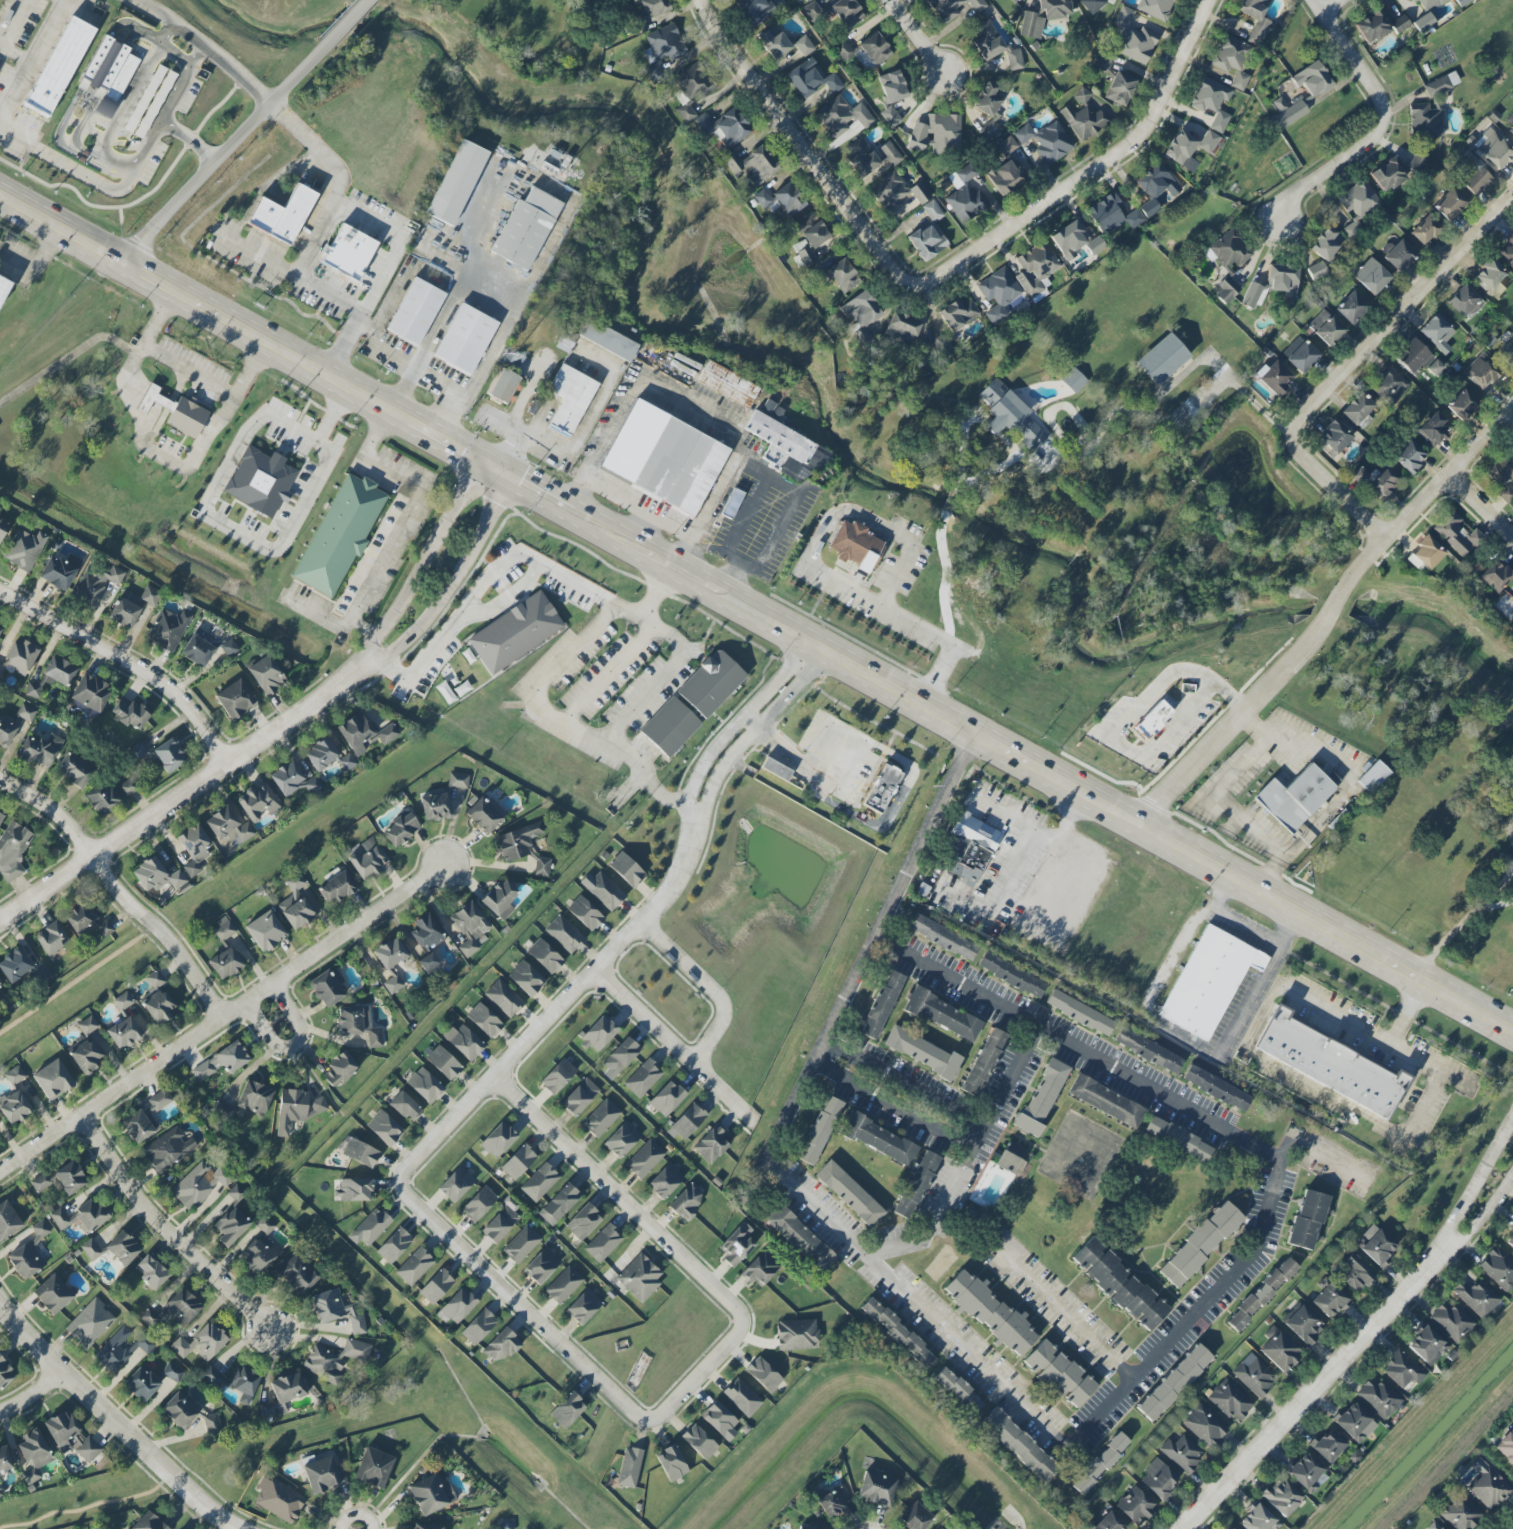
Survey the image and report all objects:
building: (594, 0)
building: (805, 0)
building: (1014, 1)
building: (1460, 2)
building: (1428, 4)
building: (1092, 5)
road: (1317, 5)
road: (1330, 5)
building: (651, 7)
building: (952, 8)
building: (753, 10)
building: (812, 11)
building: (846, 12)
building: (1042, 16)
building: (1123, 17)
building: (1255, 19)
road: (349, 22)
building: (1423, 22)
building: (1400, 24)
building: (1373, 26)
building: (773, 42)
building: (664, 44)
road: (924, 44)
building: (1137, 44)
building: (803, 45)
building: (994, 46)
road: (206, 47)
building: (843, 50)
road: (33, 58)
building: (1231, 60)
building: (1103, 62)
building: (58, 66)
building: (109, 73)
building: (805, 78)
building: (1311, 79)
building: (832, 83)
building: (1440, 84)
building: (892, 86)
building: (1119, 88)
building: (1081, 95)
building: (987, 99)
building: (1211, 101)
building: (1285, 113)
building: (843, 116)
building: (890, 116)
building: (1425, 117)
building: (1083, 120)
building: (1510, 123)
building: (724, 127)
road: (1378, 129)
building: (936, 133)
road: (190, 140)
building: (1046, 141)
building: (1208, 141)
building: (1006, 145)
road: (806, 149)
building: (1493, 149)
building: (1181, 150)
road: (227, 152)
building: (890, 153)
building: (861, 158)
building: (1415, 163)
road: (116, 164)
building: (752, 165)
road: (68, 166)
road: (1098, 171)
building: (1388, 173)
building: (1005, 177)
building: (1475, 181)
building: (456, 182)
building: (1154, 187)
building: (889, 192)
building: (919, 192)
building: (964, 195)
building: (762, 198)
building: (788, 198)
building: (1450, 204)
building: (1357, 205)
building: (281, 213)
building: (1112, 215)
building: (525, 229)
building: (1424, 230)
building: (812, 231)
building: (928, 234)
road: (403, 239)
building: (1326, 243)
road: (308, 247)
building: (1508, 250)
road: (255, 251)
building: (348, 252)
building: (1398, 254)
road: (38, 263)
building: (1035, 268)
building: (1316, 270)
building: (842, 275)
building: (1371, 276)
building: (1490, 278)
building: (1273, 284)
building: (3, 287)
building: (1225, 289)
building: (998, 293)
building: (1465, 301)
road: (204, 303)
road: (445, 307)
building: (1352, 307)
building: (413, 311)
building: (861, 313)
building: (957, 314)
road: (1399, 318)
building: (902, 327)
building: (1326, 327)
building: (1436, 333)
building: (463, 338)
building: (606, 340)
building: (565, 341)
road: (384, 343)
building: (1507, 352)
building: (1299, 354)
building: (1413, 357)
building: (1162, 358)
road: (189, 368)
building: (1481, 371)
building: (1273, 376)
building: (1074, 381)
building: (500, 384)
building: (724, 384)
building: (1389, 386)
road: (527, 393)
building: (568, 399)
building: (1463, 402)
building: (1358, 410)
road: (1184, 411)
building: (176, 412)
road: (705, 415)
building: (1009, 415)
road: (503, 418)
building: (1434, 428)
building: (1333, 438)
road: (576, 439)
building: (787, 444)
road: (456, 447)
building: (1511, 448)
road: (156, 451)
building: (1408, 456)
building: (661, 457)
road: (1038, 463)
building: (1359, 475)
building: (1503, 478)
building: (260, 480)
building: (1384, 483)
road: (784, 489)
road: (551, 490)
road: (1337, 490)
road: (719, 495)
road: (207, 499)
building: (731, 503)
road: (959, 504)
road: (1481, 507)
road: (650, 514)
road: (643, 524)
building: (2, 530)
road: (395, 532)
building: (339, 534)
building: (1455, 534)
road: (770, 546)
building: (861, 546)
road: (713, 548)
building: (24, 549)
building: (1424, 554)
road: (419, 557)
road: (669, 565)
road: (815, 568)
road: (655, 570)
building: (59, 571)
road: (489, 572)
road: (707, 575)
building: (1494, 576)
road: (454, 579)
road: (951, 580)
building: (95, 585)
road: (509, 595)
road: (649, 596)
building: (1511, 598)
building: (131, 605)
building: (1512, 608)
road: (1329, 616)
building: (0, 628)
building: (168, 628)
road: (363, 629)
building: (513, 632)
building: (204, 647)
building: (20, 656)
road: (425, 660)
road: (128, 664)
road: (663, 672)
road: (605, 673)
building: (53, 675)
building: (266, 675)
road: (541, 680)
building: (717, 683)
building: (1187, 688)
building: (90, 693)
road: (1228, 697)
building: (235, 699)
building: (129, 712)
building: (24, 714)
building: (1152, 719)
road: (739, 723)
building: (667, 726)
road: (754, 729)
building: (6, 732)
building: (363, 733)
road: (1118, 736)
building: (40, 750)
building: (137, 751)
building: (169, 755)
road: (787, 755)
building: (327, 756)
building: (74, 769)
building: (775, 769)
building: (1512, 769)
building: (1371, 777)
building: (292, 780)
building: (457, 780)
road: (1349, 781)
building: (1510, 785)
building: (880, 789)
road: (189, 792)
building: (109, 795)
building: (1294, 798)
road: (1212, 800)
building: (258, 801)
building: (435, 806)
building: (486, 814)
building: (1, 817)
building: (228, 826)
road: (1035, 827)
building: (400, 829)
building: (975, 831)
road: (1166, 833)
building: (522, 847)
building: (193, 848)
building: (13, 850)
building: (367, 859)
building: (626, 869)
building: (155, 875)
building: (336, 888)
building: (604, 891)
road: (120, 893)
road: (1490, 893)
road: (995, 896)
building: (499, 899)
building: (295, 905)
building: (584, 913)
building: (87, 920)
road: (1456, 925)
building: (469, 927)
road: (1289, 927)
building: (223, 930)
building: (265, 931)
building: (425, 932)
building: (564, 934)
building: (942, 937)
building: (51, 938)
building: (390, 953)
building: (544, 956)
building: (225, 963)
building: (429, 963)
building: (14, 965)
building: (40, 973)
building: (1010, 975)
building: (525, 978)
building: (154, 979)
road: (956, 981)
building: (1206, 981)
building: (0, 984)
building: (392, 984)
road: (710, 985)
building: (327, 988)
building: (503, 998)
building: (122, 1001)
building: (881, 1004)
building: (158, 1006)
road: (561, 1006)
building: (1079, 1013)
building: (942, 1015)
road: (224, 1019)
building: (484, 1020)
building: (358, 1024)
building: (87, 1025)
road: (297, 1027)
building: (123, 1034)
building: (598, 1034)
road: (1225, 1040)
building: (463, 1041)
road: (674, 1047)
building: (1147, 1050)
building: (921, 1052)
building: (85, 1056)
building: (619, 1057)
building: (221, 1061)
building: (983, 1061)
building: (443, 1062)
building: (1328, 1064)
building: (338, 1069)
building: (14, 1075)
building: (557, 1076)
building: (643, 1077)
building: (52, 1079)
road: (904, 1083)
building: (424, 1085)
building: (1215, 1088)
road: (1330, 1095)
building: (579, 1096)
building: (254, 1097)
building: (1041, 1097)
building: (666, 1098)
road: (895, 1101)
building: (1105, 1101)
building: (405, 1106)
building: (14, 1107)
building: (290, 1109)
building: (315, 1110)
building: (600, 1117)
building: (143, 1119)
building: (687, 1121)
building: (384, 1128)
building: (819, 1130)
building: (498, 1139)
building: (621, 1139)
building: (878, 1139)
building: (1177, 1139)
building: (711, 1144)
building: (167, 1149)
building: (360, 1153)
building: (1010, 1157)
building: (644, 1159)
building: (518, 1162)
building: (62, 1179)
building: (665, 1181)
building: (539, 1182)
building: (198, 1184)
building: (455, 1184)
building: (916, 1184)
building: (353, 1190)
building: (236, 1193)
building: (848, 1193)
road: (619, 1194)
building: (686, 1201)
building: (478, 1203)
building: (558, 1204)
building: (81, 1217)
building: (8, 1220)
building: (1307, 1220)
building: (583, 1221)
building: (499, 1224)
building: (230, 1226)
building: (369, 1227)
building: (40, 1229)
road: (162, 1236)
road: (850, 1237)
building: (800, 1239)
building: (1509, 1240)
building: (603, 1243)
building: (520, 1244)
building: (736, 1244)
building: (1200, 1244)
building: (393, 1245)
building: (1375, 1245)
building: (112, 1248)
building: (258, 1249)
building: (23, 1257)
building: (414, 1266)
building: (541, 1266)
building: (1498, 1268)
building: (760, 1269)
building: (150, 1271)
building: (1353, 1273)
building: (296, 1274)
building: (639, 1278)
building: (563, 1284)
building: (1119, 1284)
building: (435, 1286)
building: (52, 1294)
building: (1260, 1294)
building: (1476, 1296)
building: (1328, 1299)
road: (520, 1303)
building: (180, 1306)
building: (457, 1306)
building: (583, 1306)
building: (336, 1310)
building: (989, 1312)
road: (1067, 1314)
building: (148, 1316)
building: (1451, 1321)
building: (90, 1323)
building: (1303, 1323)
building: (478, 1326)
building: (897, 1333)
building: (796, 1334)
building: (201, 1342)
road: (1357, 1344)
building: (1427, 1345)
building: (500, 1346)
building: (1279, 1349)
building: (114, 1350)
building: (334, 1359)
building: (1403, 1369)
building: (172, 1372)
road: (701, 1372)
building: (1058, 1373)
building: (5, 1374)
building: (763, 1374)
building: (1253, 1374)
building: (212, 1376)
building: (243, 1382)
building: (1173, 1382)
building: (141, 1383)
building: (287, 1388)
building: (957, 1390)
road: (30, 1394)
building: (742, 1397)
building: (1378, 1397)
building: (1229, 1399)
building: (265, 1410)
building: (567, 1410)
building: (187, 1412)
road: (1101, 1413)
building: (719, 1420)
road: (111, 1421)
building: (1355, 1422)
building: (1205, 1425)
building: (70, 1436)
building: (699, 1441)
building: (1018, 1445)
building: (1327, 1445)
building: (1506, 1446)
building: (1181, 1453)
building: (33, 1455)
building: (4, 1458)
building: (671, 1463)
building: (1099, 1463)
building: (373, 1467)
building: (629, 1467)
building: (1303, 1470)
building: (323, 1475)
building: (1158, 1478)
building: (876, 1488)
building: (1488, 1488)
building: (430, 1494)
building: (1281, 1497)
building: (278, 1499)
building: (833, 1503)
building: (1135, 1505)
building: (1460, 1513)
building: (915, 1517)
building: (1257, 1519)
building: (147, 1522)
road: (367, 1522)
building: (1110, 1522)
building: (1432, 1525)
building: (425, 1527)
building: (805, 1527)
building: (1228, 1528)

